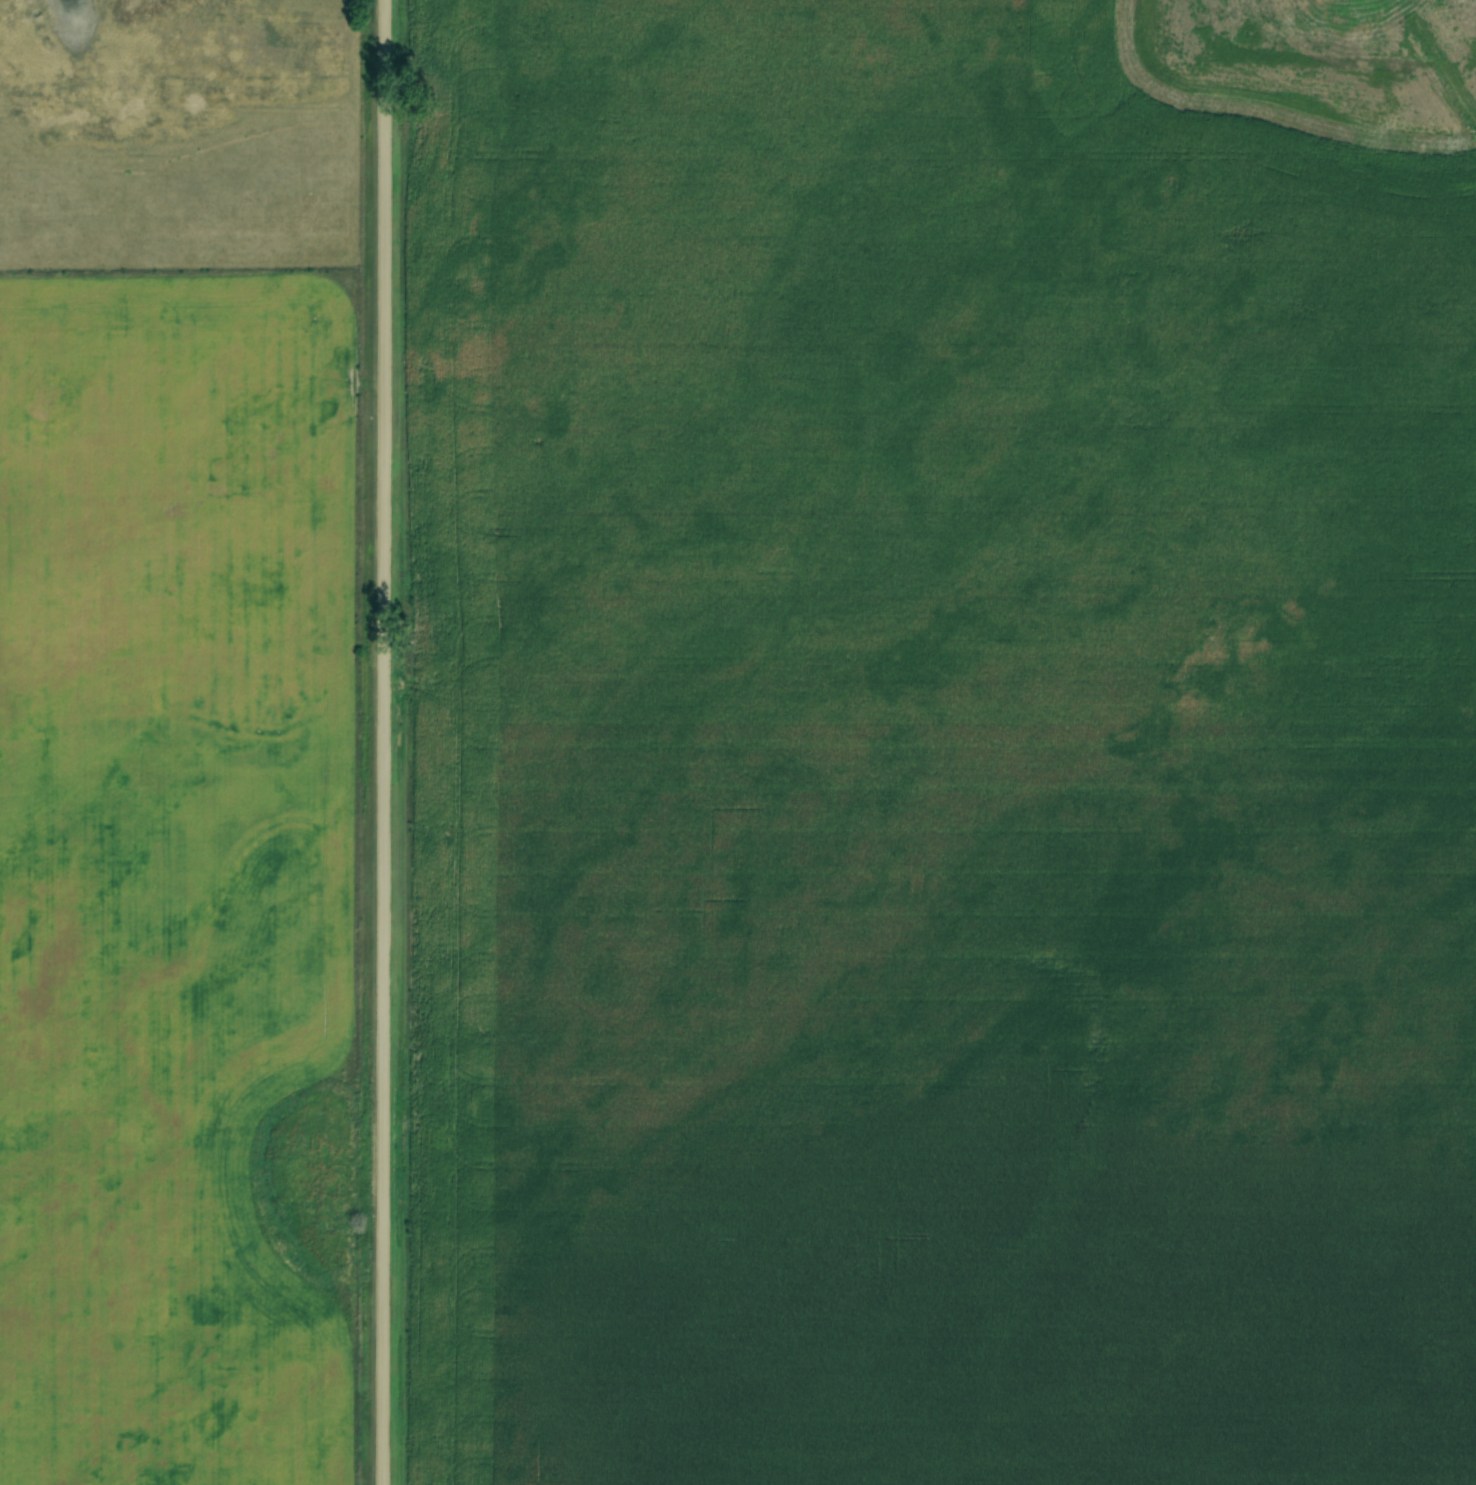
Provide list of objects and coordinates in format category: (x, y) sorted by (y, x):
road: (382, 742)

